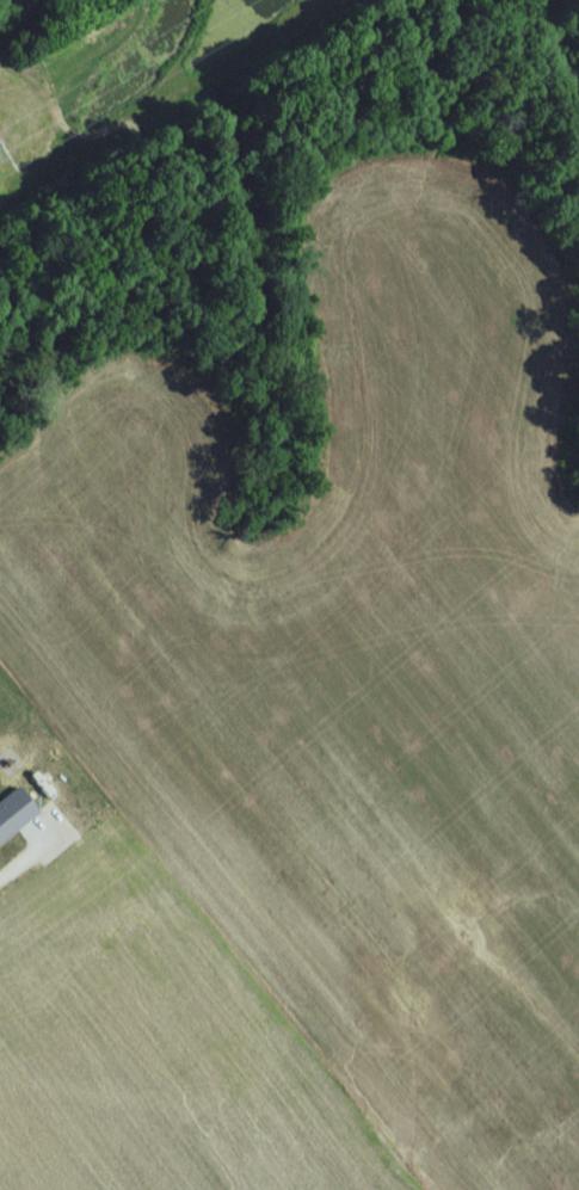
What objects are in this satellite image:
road: (18, 867)

